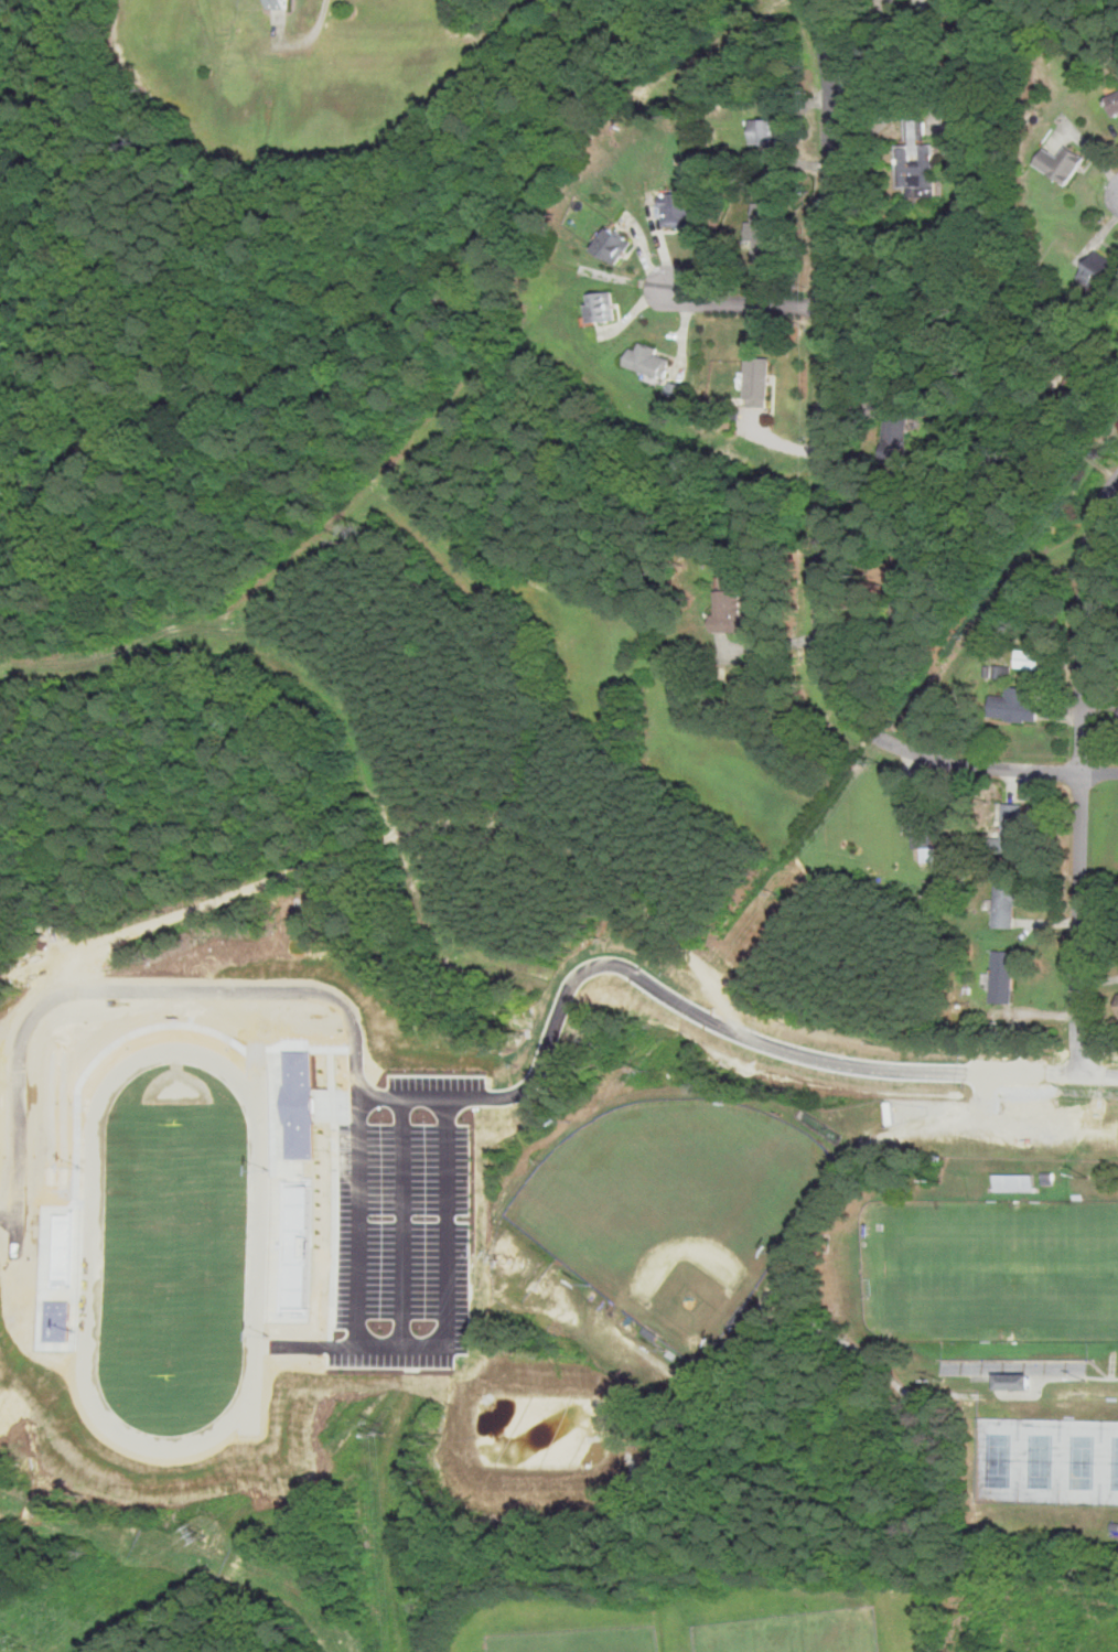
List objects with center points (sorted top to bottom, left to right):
building: (281, 4)
road: (309, 36)
road: (888, 58)
building: (1114, 101)
road: (879, 126)
building: (763, 132)
building: (913, 159)
building: (1060, 163)
building: (674, 210)
building: (762, 233)
building: (609, 247)
building: (1096, 269)
road: (744, 302)
building: (596, 309)
building: (643, 362)
building: (755, 383)
building: (1074, 386)
building: (673, 389)
building: (894, 420)
building: (893, 451)
building: (1043, 458)
road: (821, 498)
building: (1028, 658)
building: (1001, 672)
building: (1012, 704)
building: (1117, 719)
road: (1079, 770)
building: (1007, 830)
building: (926, 844)
building: (1002, 907)
building: (1001, 976)
building: (1117, 997)
road: (1042, 1069)
road: (992, 1114)
building: (1053, 1169)
building: (1019, 1177)
park: (671, 1203)
park: (991, 1268)
stadium: (988, 1270)
building: (649, 1337)
building: (1023, 1362)
building: (1019, 1373)
building: (1019, 1381)
park: (1046, 1460)
building: (1114, 1527)
park: (690, 1613)
park: (791, 1632)
park: (577, 1641)

